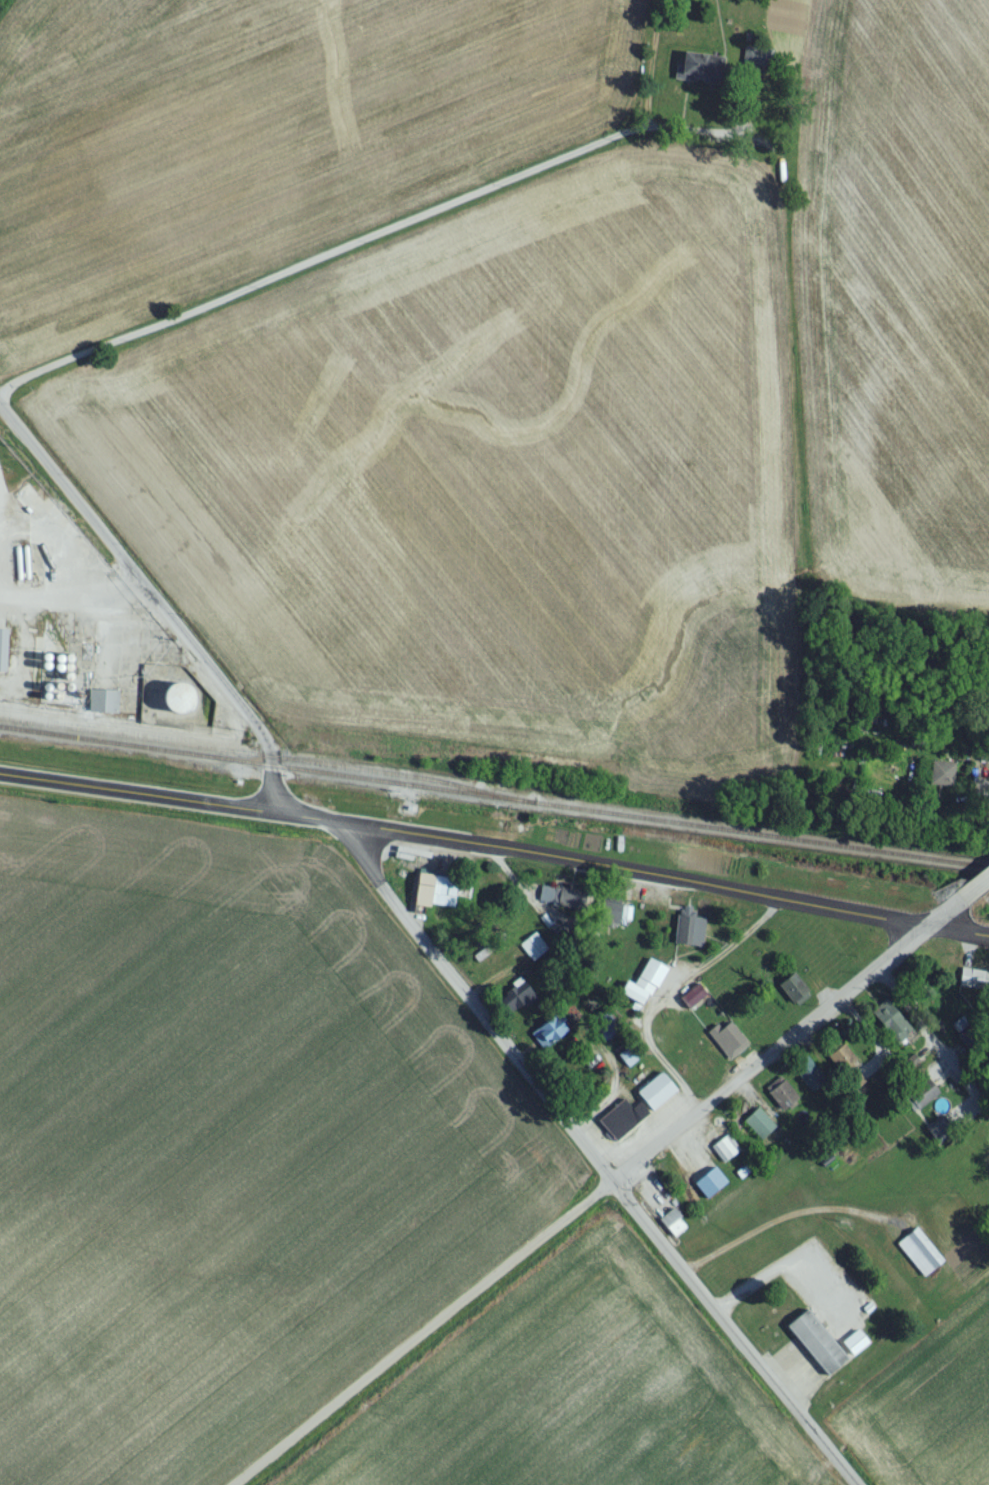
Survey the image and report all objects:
road: (652, 68)
road: (740, 145)
building: (30, 504)
road: (68, 595)
road: (155, 610)
building: (4, 656)
railway: (494, 803)
road: (495, 854)
road: (973, 888)
building: (431, 897)
road: (939, 917)
building: (608, 920)
road: (743, 936)
building: (686, 937)
building: (973, 986)
building: (641, 990)
building: (789, 993)
road: (479, 1011)
building: (889, 1030)
building: (545, 1037)
road: (933, 1040)
building: (724, 1042)
road: (769, 1062)
building: (627, 1065)
building: (842, 1071)
building: (778, 1101)
building: (917, 1101)
building: (635, 1112)
building: (723, 1154)
road: (783, 1218)
building: (916, 1257)
road: (737, 1338)
road: (437, 1339)
building: (811, 1349)

